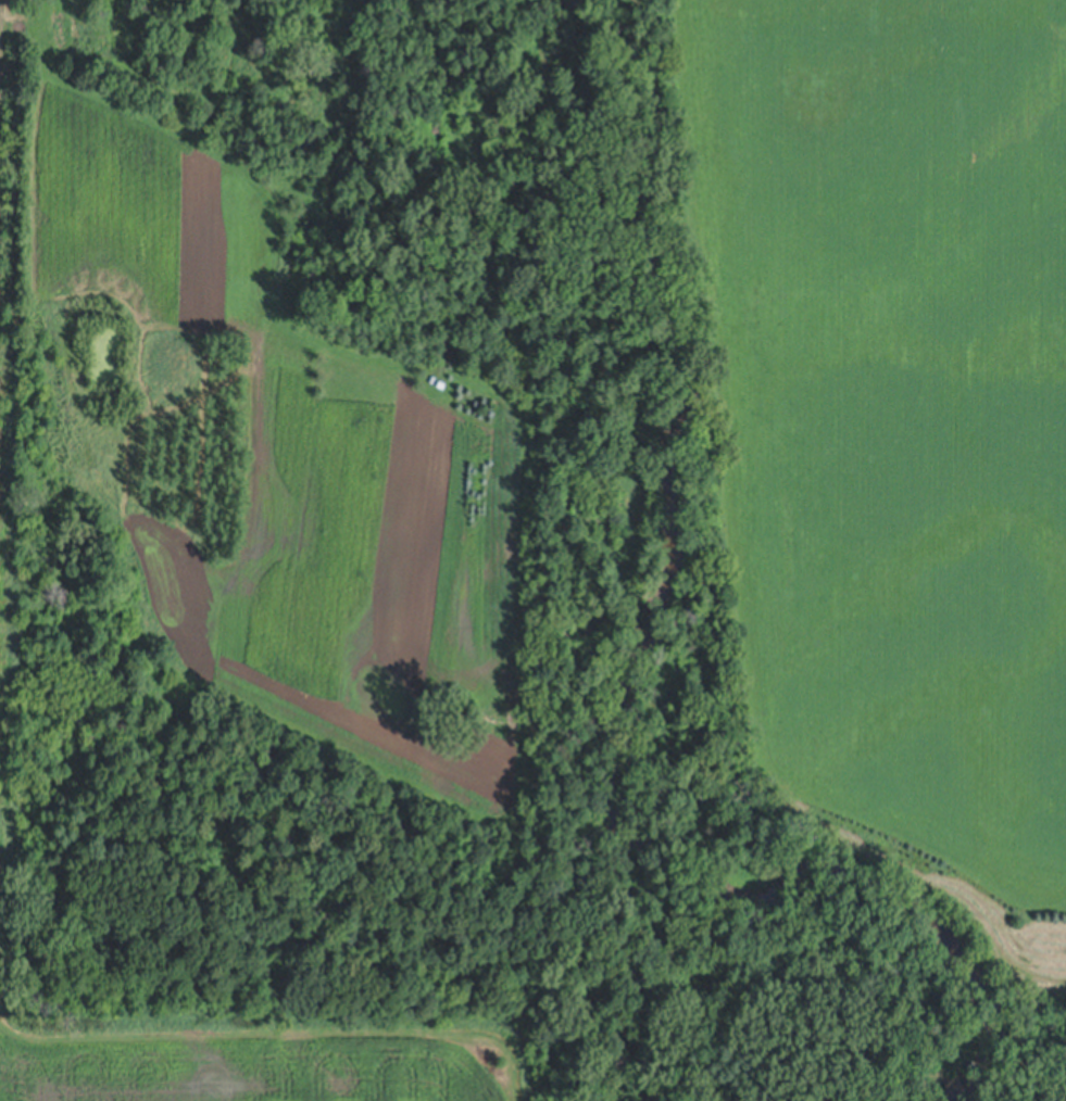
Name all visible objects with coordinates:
crop: (891, 398)
crop: (236, 1071)

